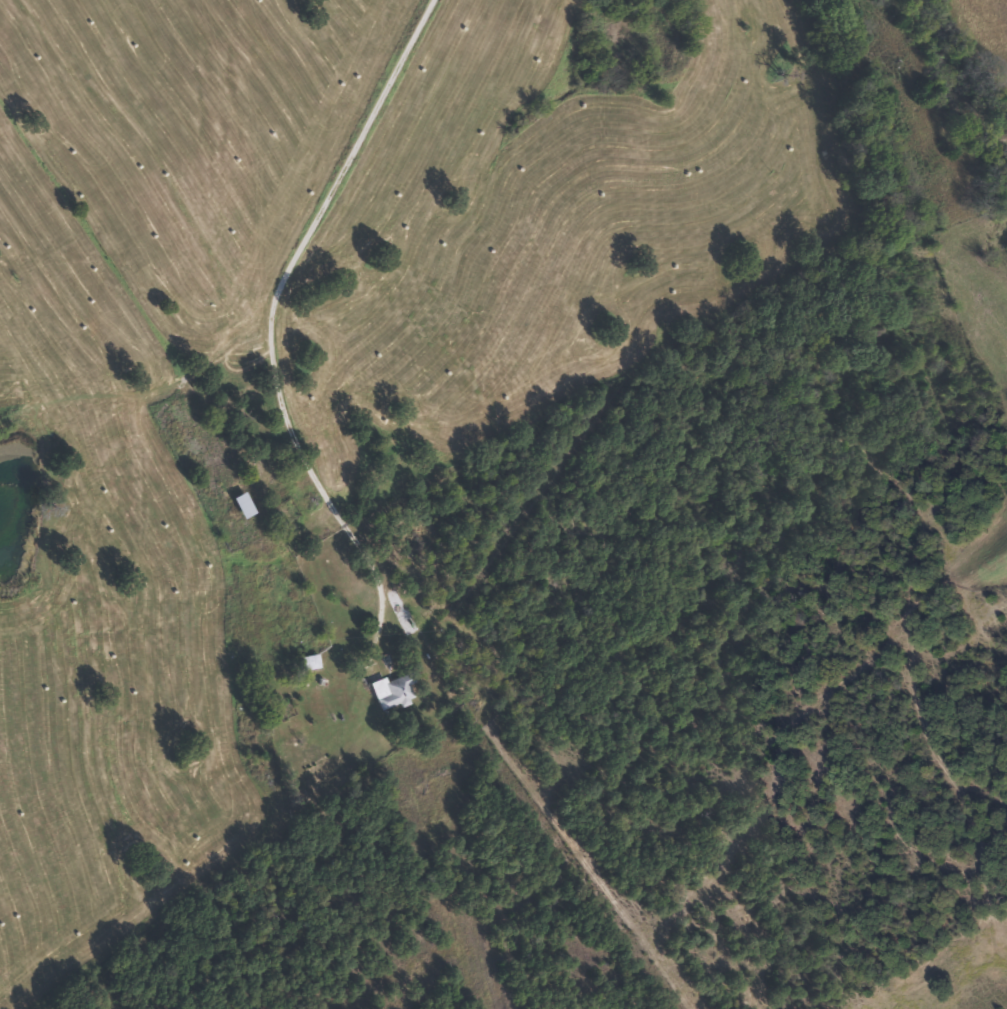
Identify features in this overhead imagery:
road: (312, 211)
building: (240, 505)
building: (306, 662)
building: (389, 692)

